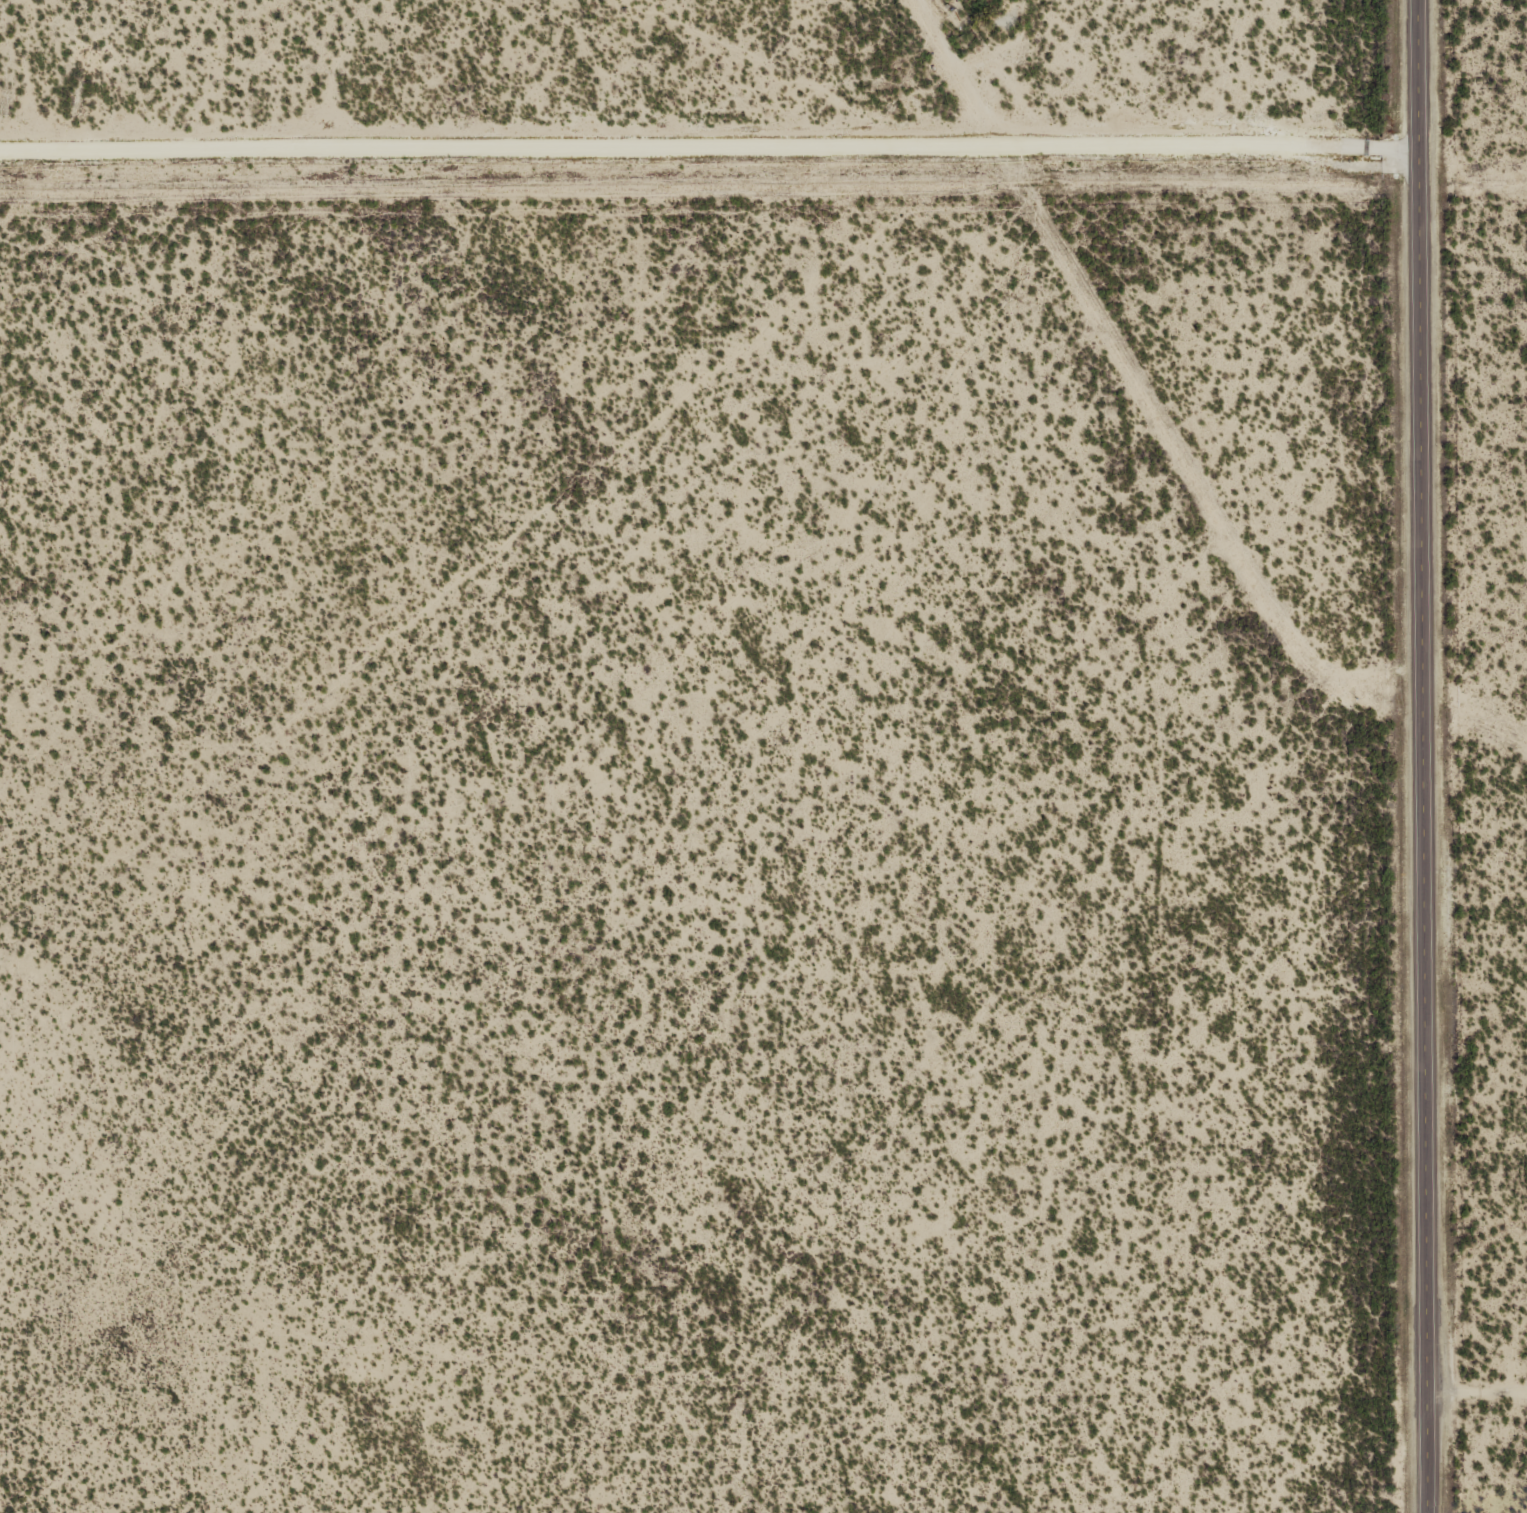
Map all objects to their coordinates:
road: (1423, 756)
road: (1477, 1399)

